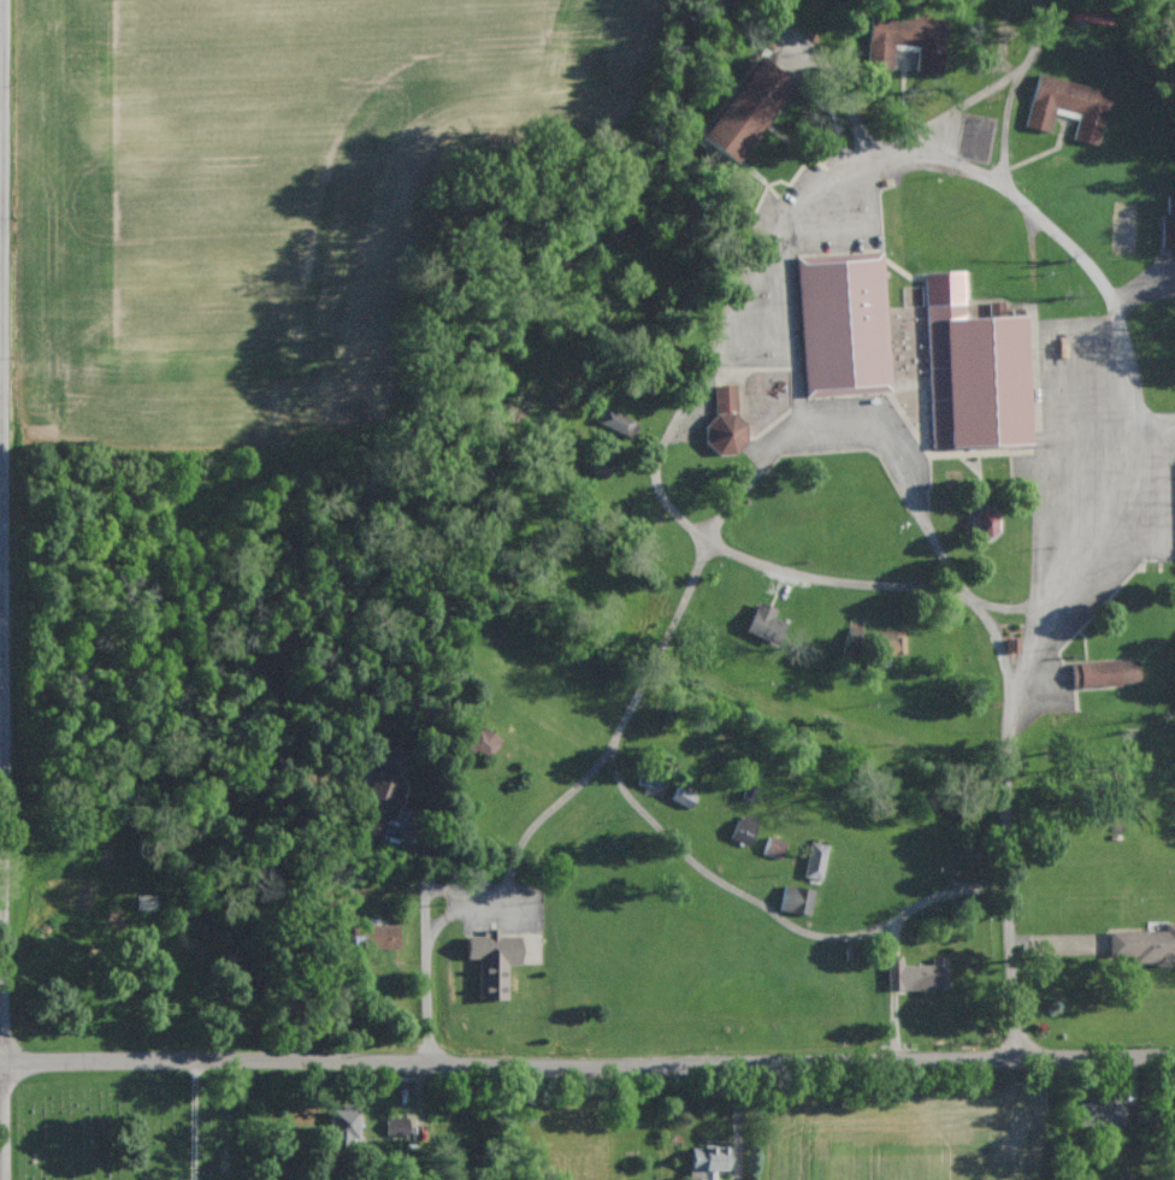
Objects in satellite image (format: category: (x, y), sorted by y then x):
building: (907, 40)
building: (1069, 106)
building: (746, 110)
road: (969, 167)
building: (844, 323)
road: (795, 324)
building: (974, 370)
building: (725, 418)
road: (861, 420)
building: (618, 421)
road: (1155, 423)
building: (602, 467)
building: (985, 523)
road: (1, 530)
building: (764, 623)
building: (890, 642)
building: (1105, 672)
building: (484, 742)
road: (607, 753)
building: (383, 791)
building: (684, 797)
building: (744, 828)
road: (1005, 837)
building: (774, 848)
building: (815, 860)
building: (797, 899)
road: (451, 903)
road: (781, 915)
building: (382, 936)
road: (426, 942)
building: (1145, 944)
building: (494, 962)
building: (919, 974)
road: (586, 1068)
building: (1102, 1111)
road: (195, 1119)
road: (2, 1120)
building: (343, 1123)
building: (710, 1160)

